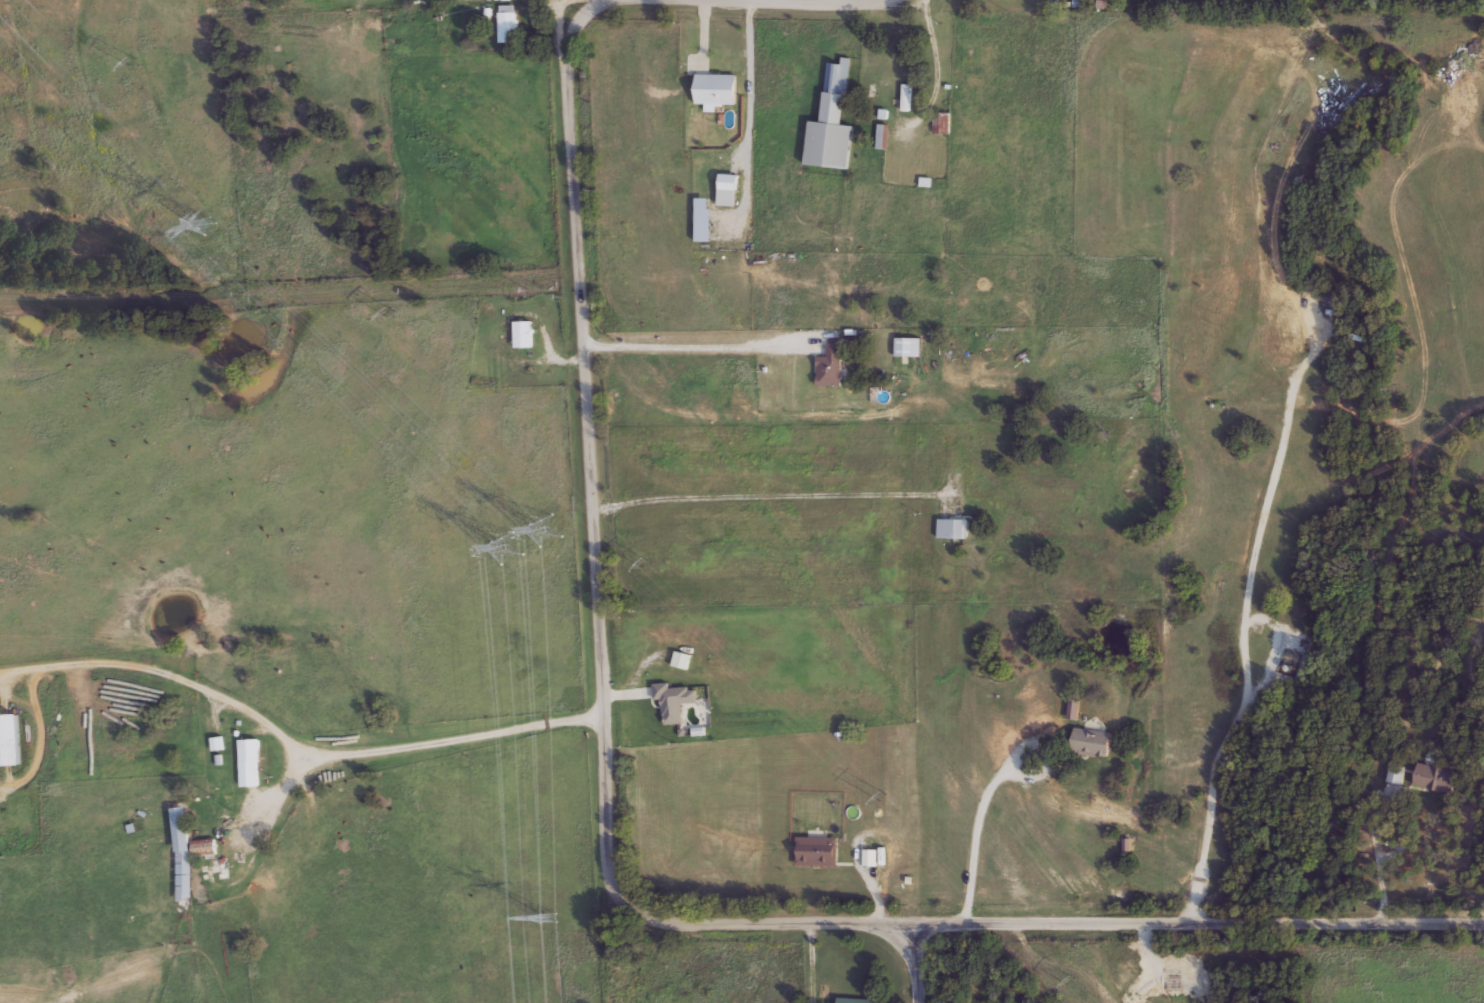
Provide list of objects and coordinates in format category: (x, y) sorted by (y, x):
building: (1101, 4)
building: (509, 24)
building: (717, 89)
building: (906, 97)
building: (941, 122)
building: (832, 123)
building: (883, 136)
building: (728, 190)
power tower: (208, 226)
building: (523, 333)
road: (697, 347)
building: (831, 366)
road: (601, 526)
building: (953, 527)
power tower: (526, 535)
road: (1245, 624)
building: (10, 739)
building: (1093, 741)
road: (278, 750)
building: (250, 762)
building: (1396, 773)
building: (1435, 777)
road: (982, 819)
building: (204, 847)
building: (816, 850)
building: (182, 854)
power tower: (547, 916)
road: (1279, 927)
road: (991, 928)
road: (908, 966)
building: (859, 1000)

